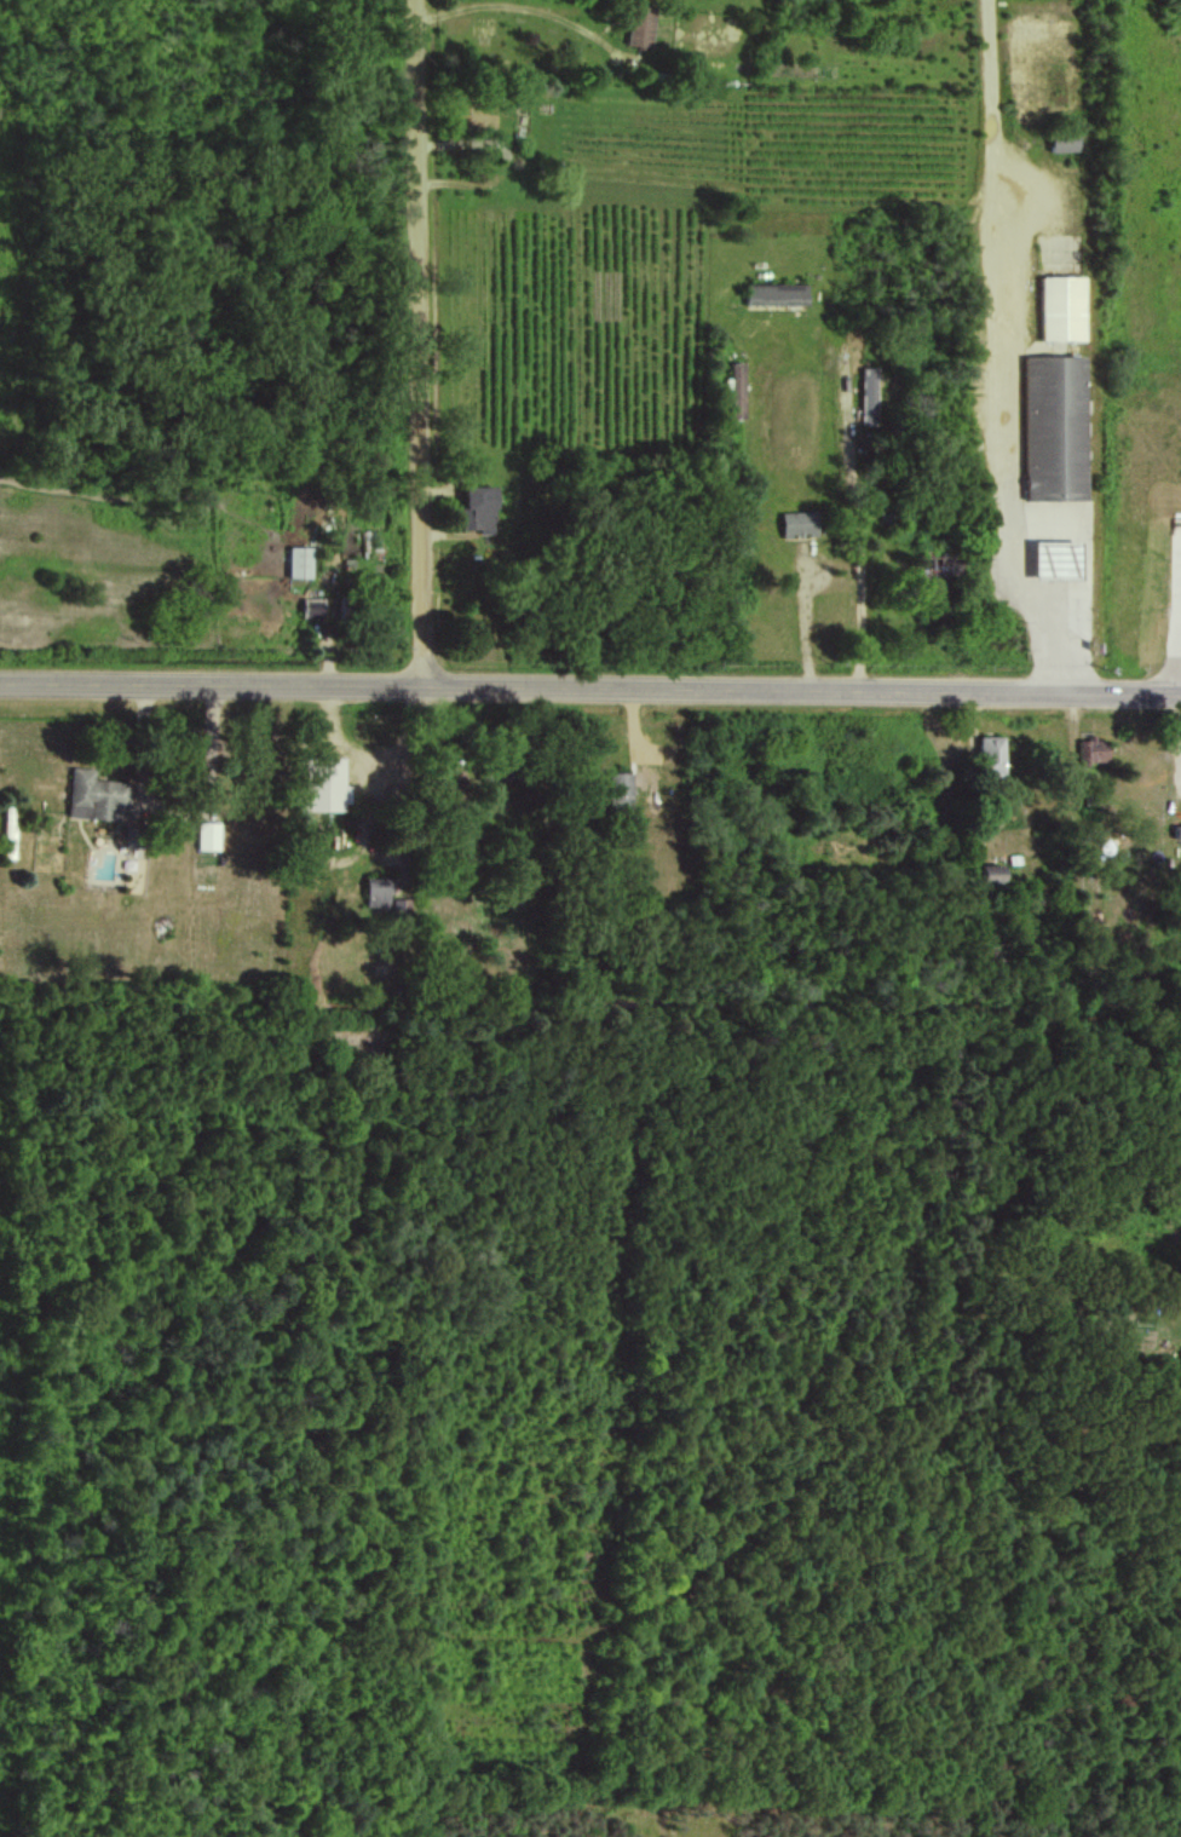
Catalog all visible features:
road: (524, 6)
building: (640, 25)
road: (992, 92)
building: (473, 115)
building: (1064, 144)
building: (777, 294)
building: (1061, 307)
road: (417, 342)
building: (737, 390)
building: (868, 395)
building: (1054, 428)
road: (1008, 449)
building: (479, 509)
road: (858, 519)
building: (799, 523)
road: (1089, 537)
building: (1058, 560)
building: (300, 562)
building: (312, 609)
road: (1177, 663)
road: (589, 687)
building: (1093, 749)
building: (991, 754)
building: (323, 783)
building: (618, 787)
building: (93, 794)
road: (182, 813)
building: (1177, 830)
building: (207, 834)
building: (990, 873)
building: (376, 891)
building: (399, 905)
building: (1180, 1363)

